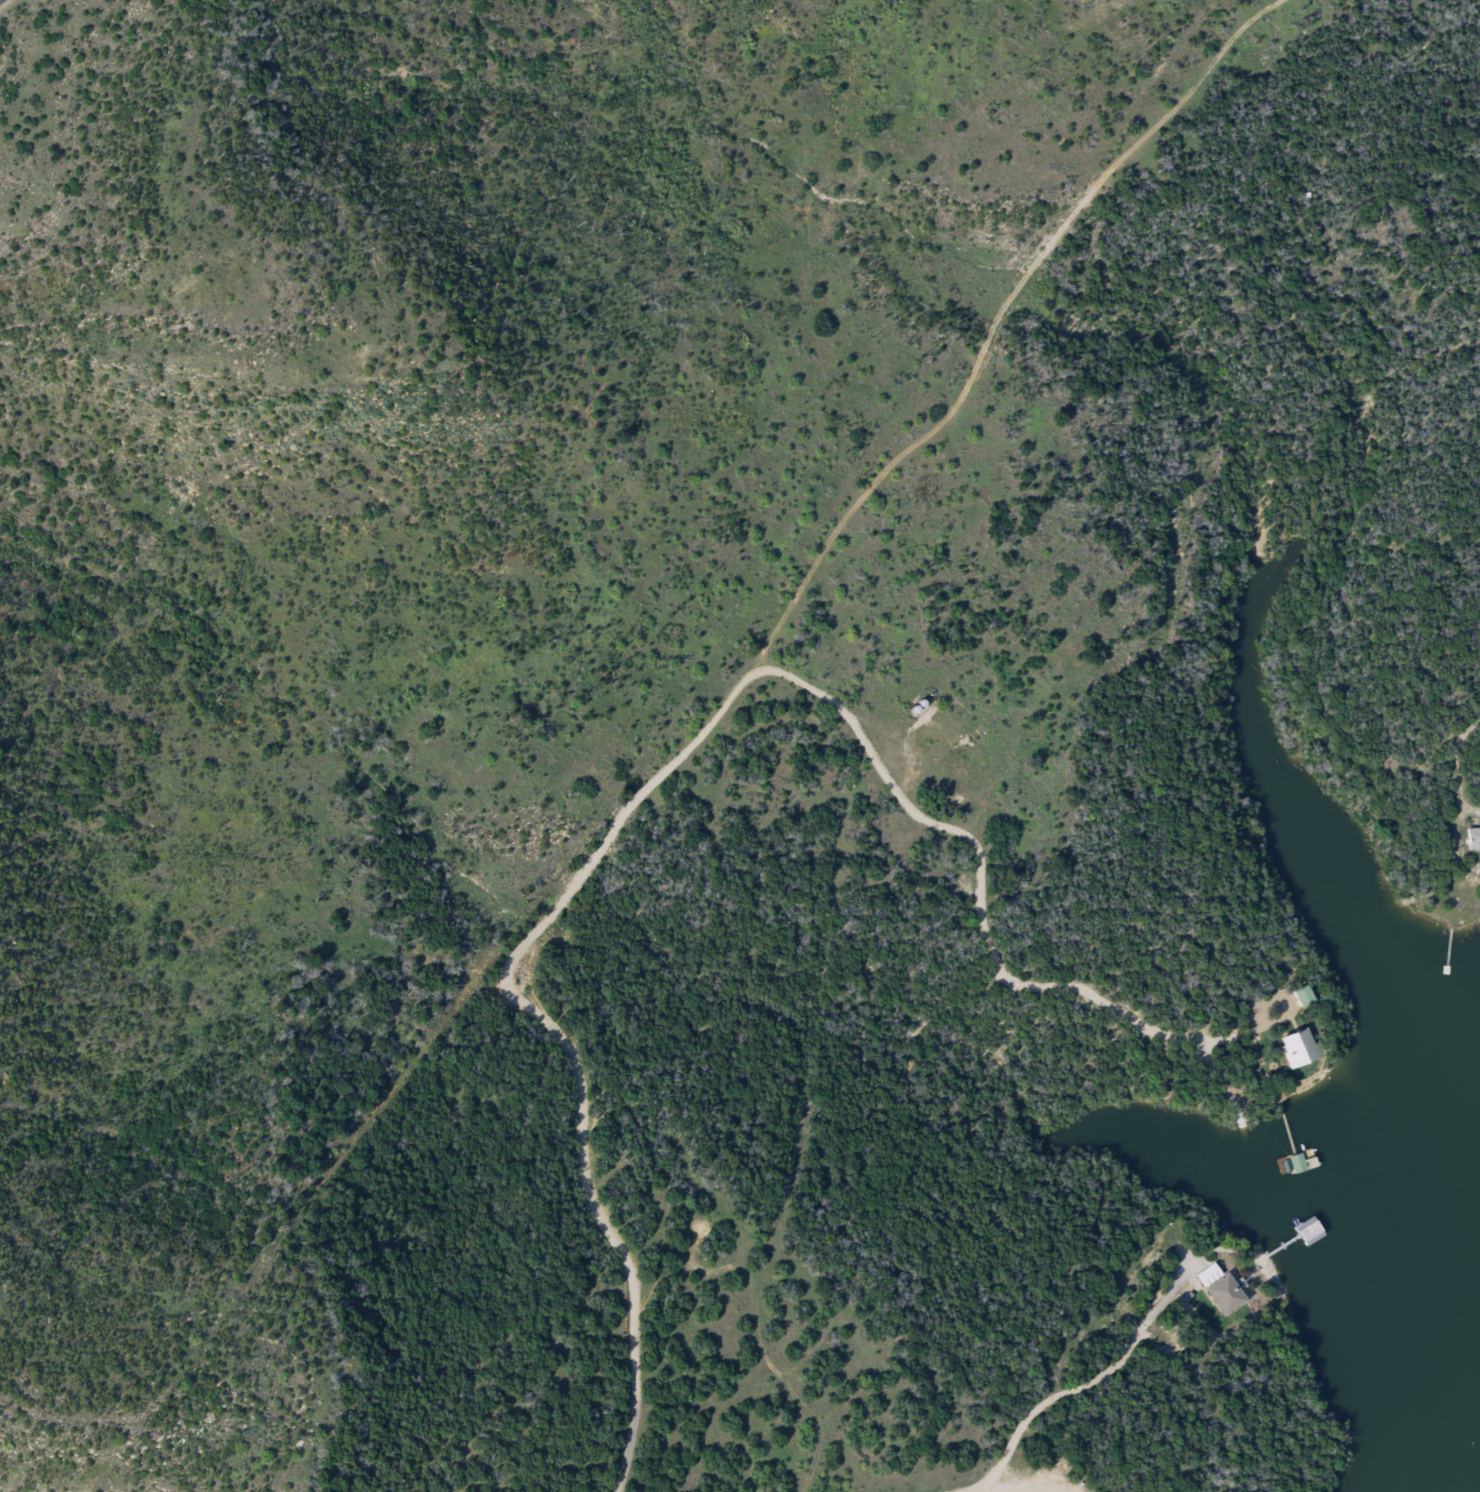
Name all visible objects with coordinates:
road: (1247, 24)
road: (1050, 241)
road: (830, 546)
park: (438, 552)
road: (1470, 770)
building: (1473, 840)
road: (991, 892)
building: (1302, 997)
road: (574, 1021)
building: (1298, 1048)
building: (1220, 1289)
road: (1030, 1487)

